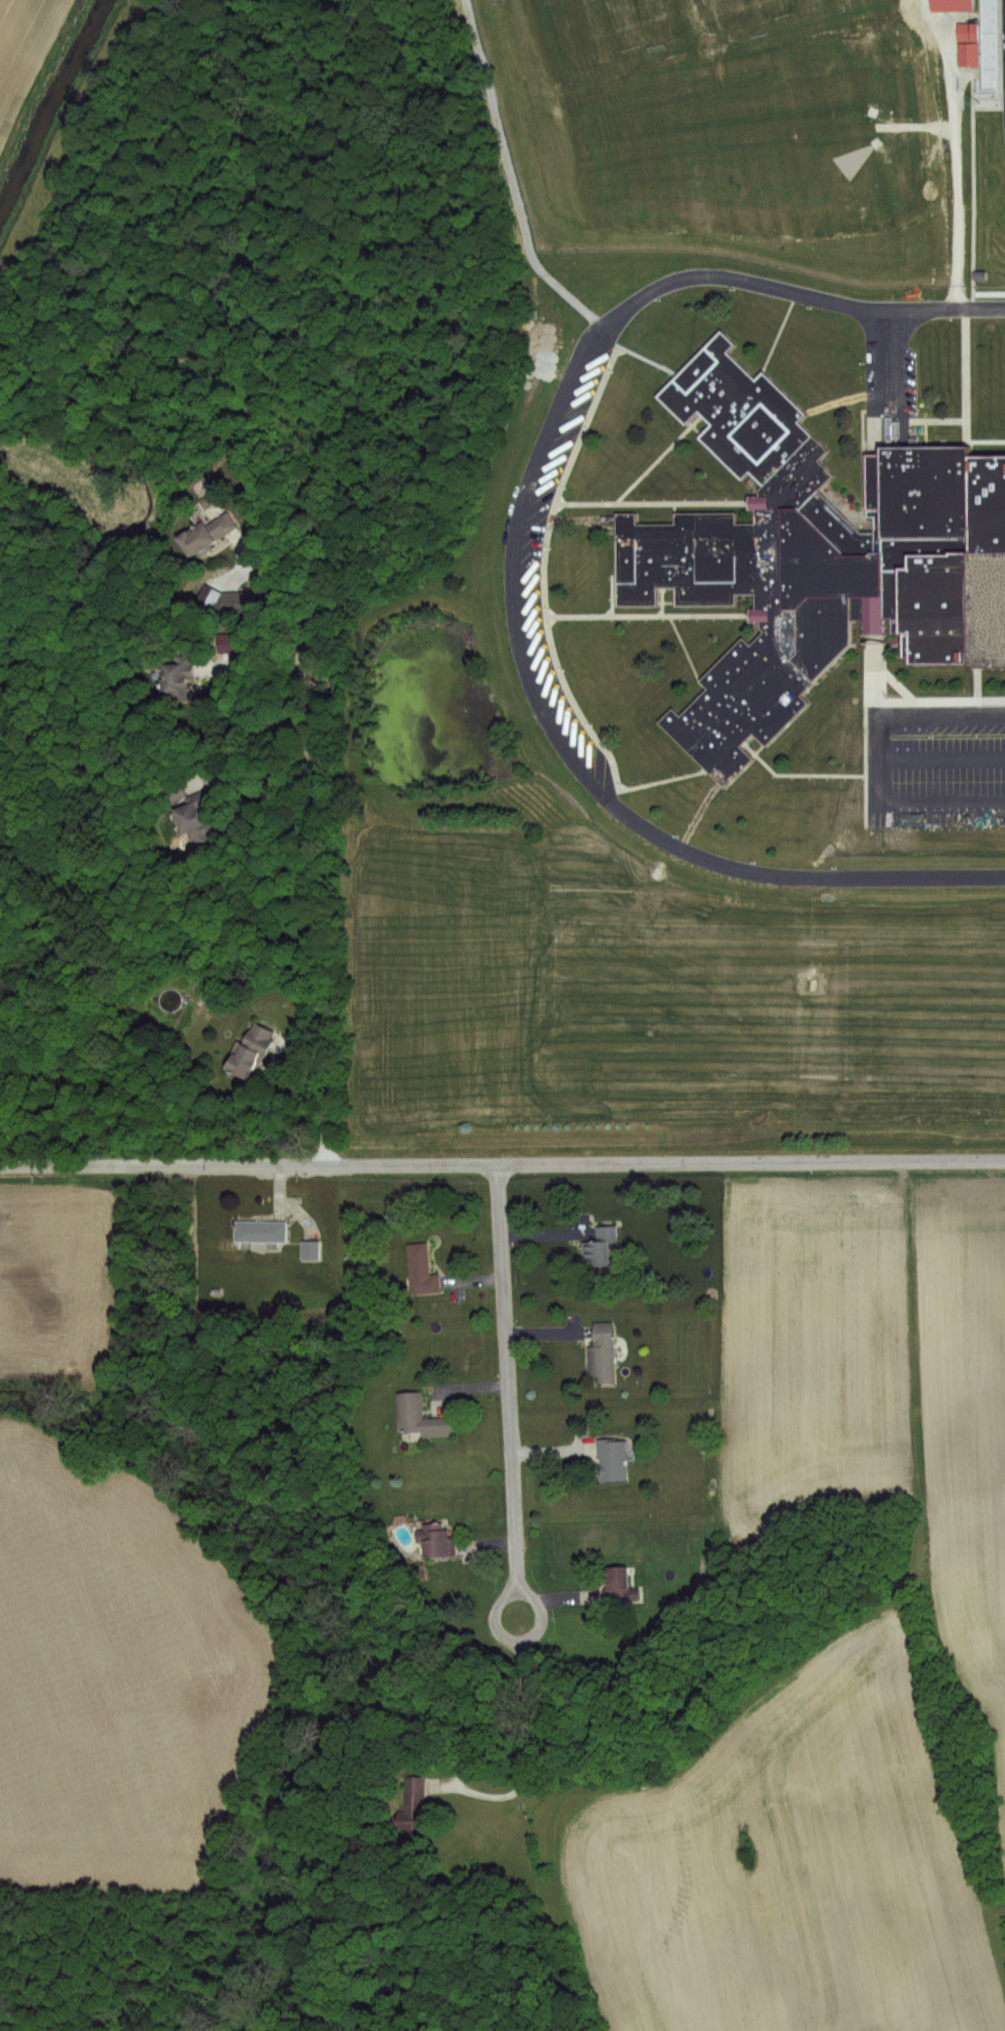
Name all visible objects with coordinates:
building: (949, 5)
park: (759, 9)
park: (586, 34)
track: (1004, 43)
building: (965, 54)
road: (1001, 62)
river: (50, 105)
park: (825, 148)
park: (675, 150)
road: (954, 160)
road: (512, 186)
road: (973, 186)
road: (948, 306)
road: (780, 326)
road: (894, 351)
road: (647, 355)
road: (966, 370)
road: (395, 390)
road: (895, 402)
road: (880, 405)
road: (695, 423)
road: (983, 437)
road: (862, 457)
road: (681, 499)
road: (561, 500)
building: (207, 536)
building: (815, 551)
road: (612, 592)
road: (662, 597)
road: (667, 598)
building: (238, 602)
road: (590, 613)
road: (515, 617)
road: (888, 643)
road: (684, 644)
road: (903, 644)
road: (949, 660)
road: (252, 673)
road: (976, 678)
building: (181, 679)
road: (905, 692)
road: (957, 697)
road: (864, 720)
road: (601, 742)
road: (943, 756)
road: (881, 757)
parking lot: (934, 763)
road: (798, 771)
road: (261, 777)
building: (201, 782)
building: (178, 790)
building: (198, 821)
road: (319, 845)
building: (252, 1052)
road: (502, 1160)
building: (262, 1229)
building: (603, 1246)
building: (310, 1248)
building: (423, 1268)
building: (604, 1353)
crop: (874, 1363)
road: (505, 1376)
building: (419, 1416)
building: (614, 1459)
building: (439, 1539)
building: (625, 1585)
crop: (100, 1597)
road: (522, 1642)
road: (527, 1758)
building: (418, 1800)
crop: (786, 1861)

